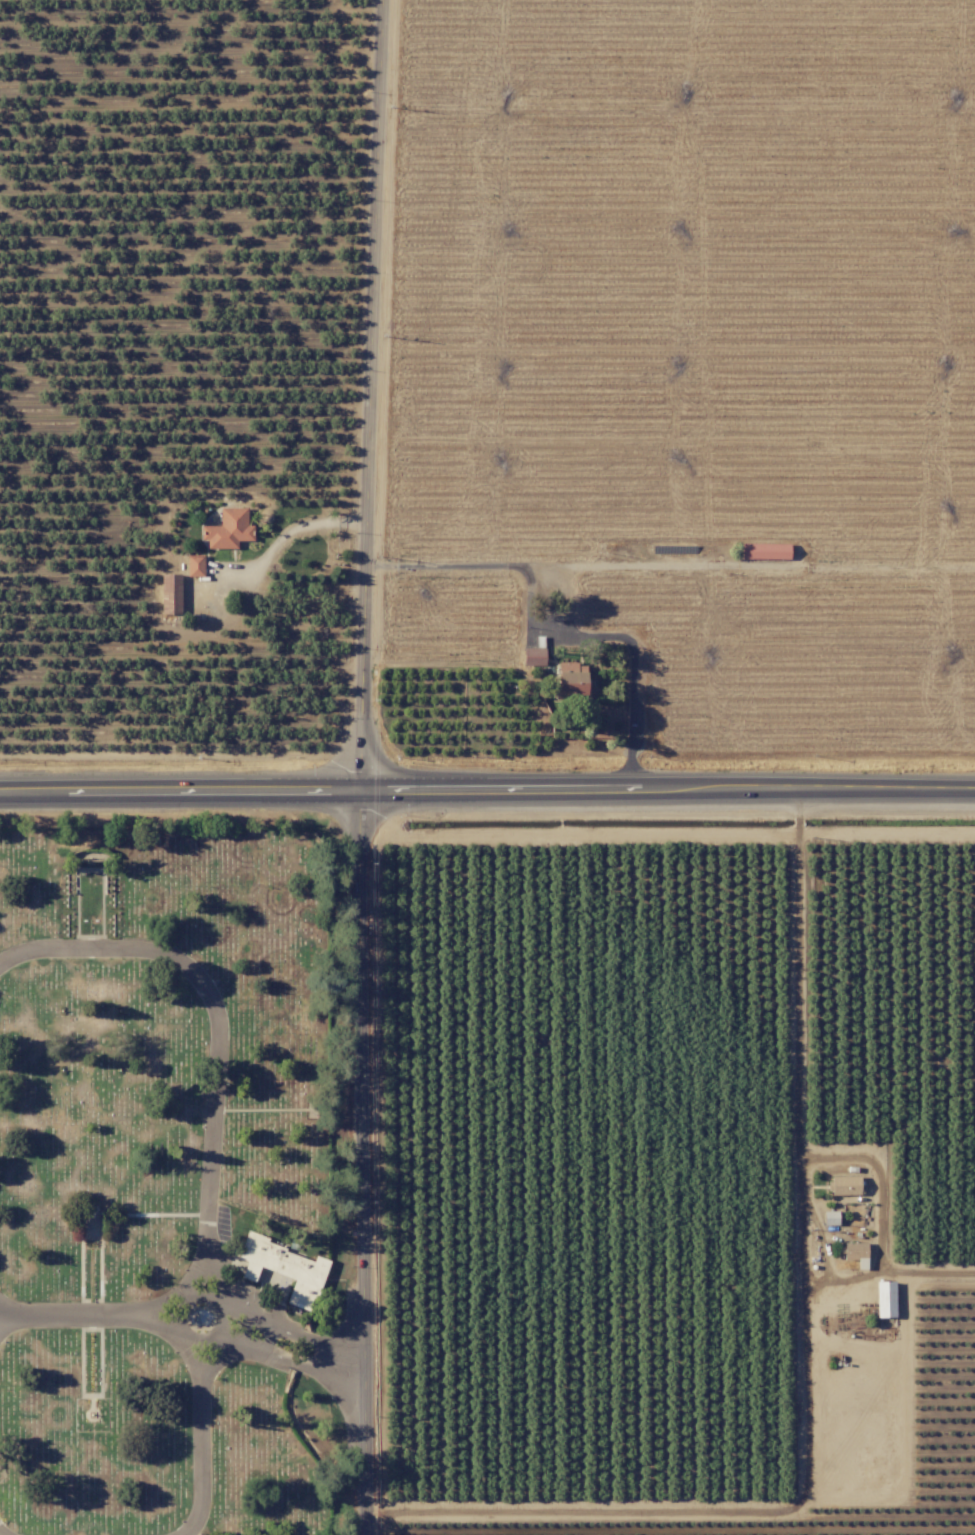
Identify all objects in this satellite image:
road: (369, 395)
road: (298, 526)
building: (228, 528)
building: (765, 550)
building: (195, 564)
building: (170, 593)
road: (544, 630)
building: (533, 656)
building: (571, 680)
road: (487, 790)
road: (219, 1033)
road: (360, 1162)
road: (803, 1175)
park: (177, 1177)
building: (844, 1184)
building: (830, 1217)
building: (856, 1252)
building: (283, 1267)
road: (171, 1289)
road: (184, 1289)
building: (885, 1298)
road: (215, 1300)
road: (222, 1300)
road: (252, 1311)
road: (109, 1317)
road: (272, 1334)
road: (179, 1337)
road: (225, 1339)
road: (318, 1340)
road: (251, 1348)
road: (315, 1368)
road: (198, 1435)
road: (3, 1532)

